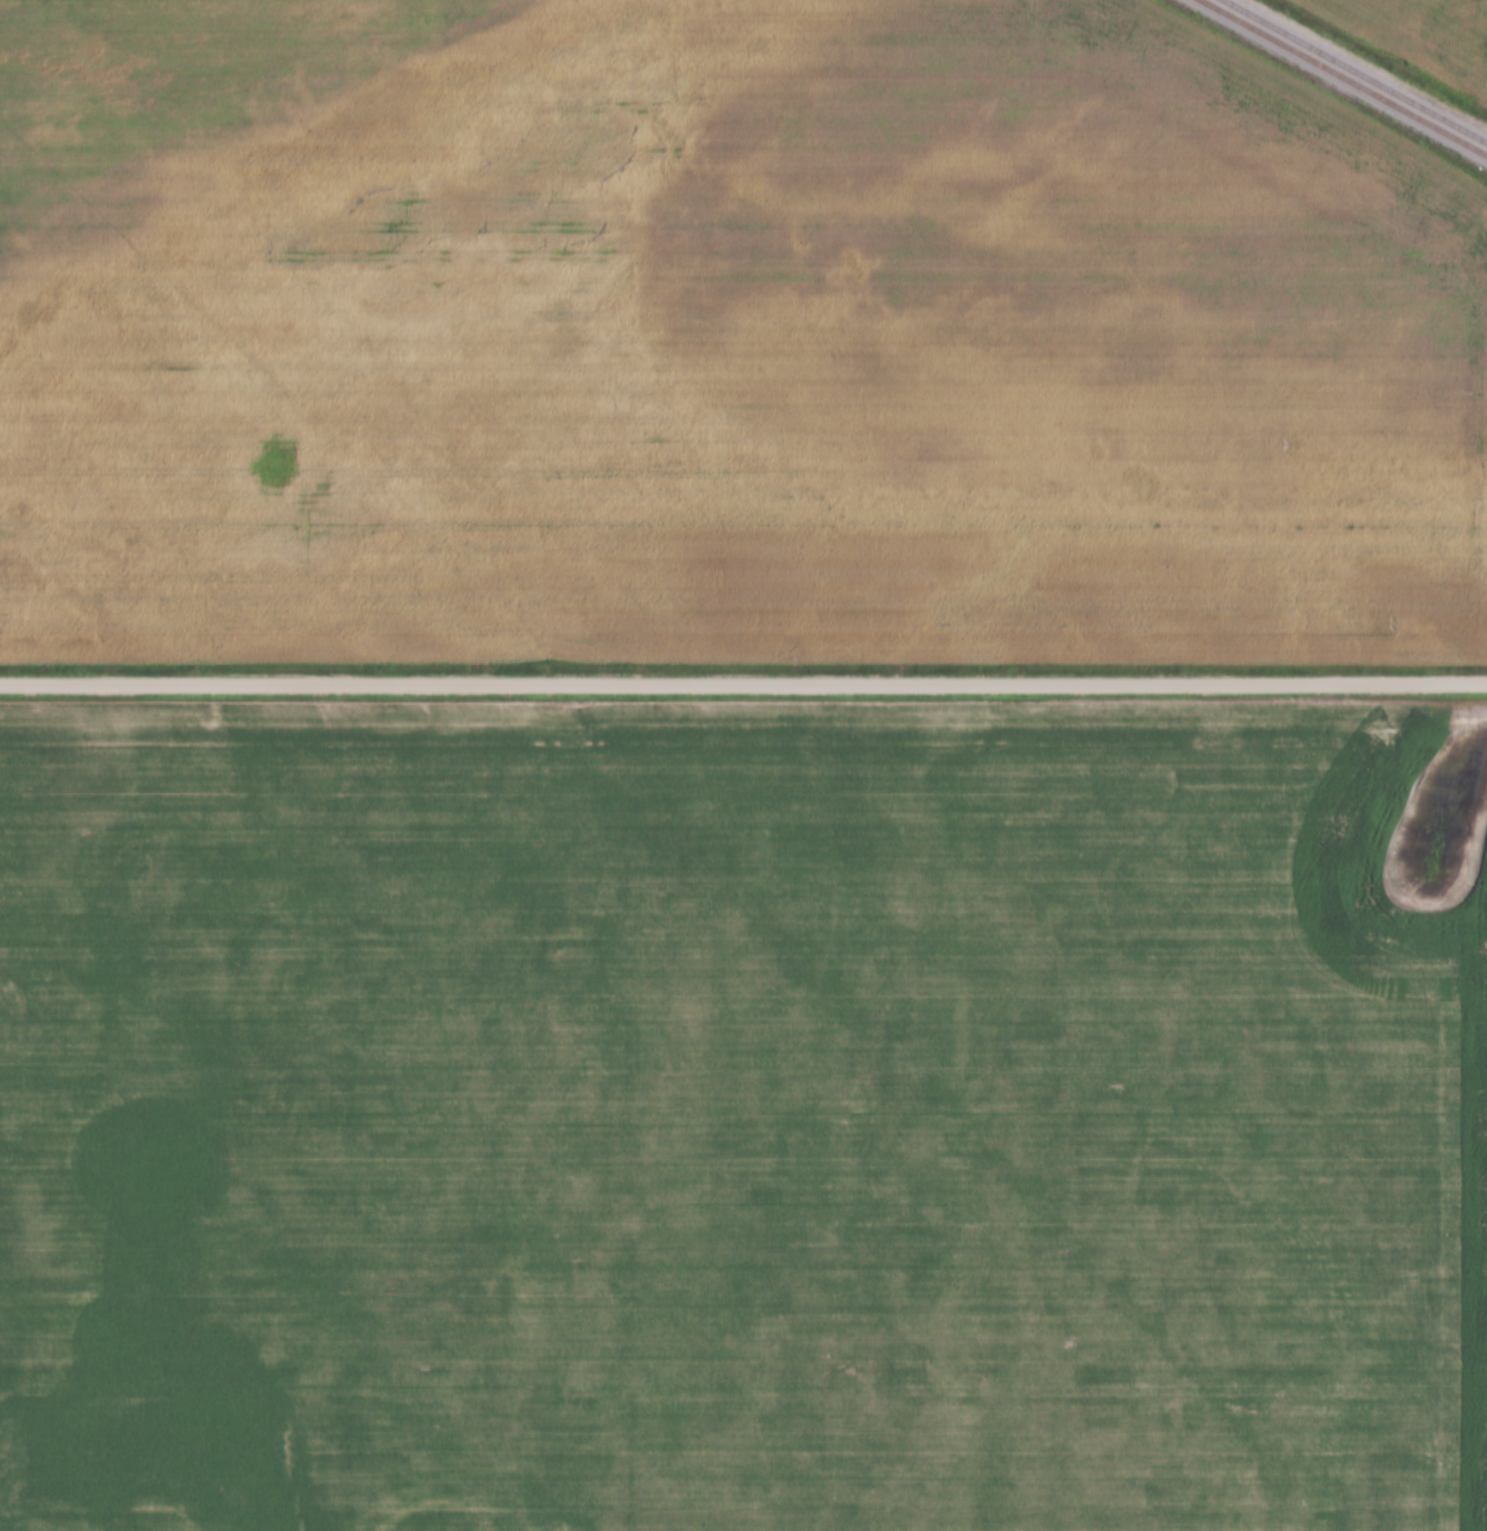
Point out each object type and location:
railway: (1353, 72)
railway: (1341, 79)
road: (743, 679)

